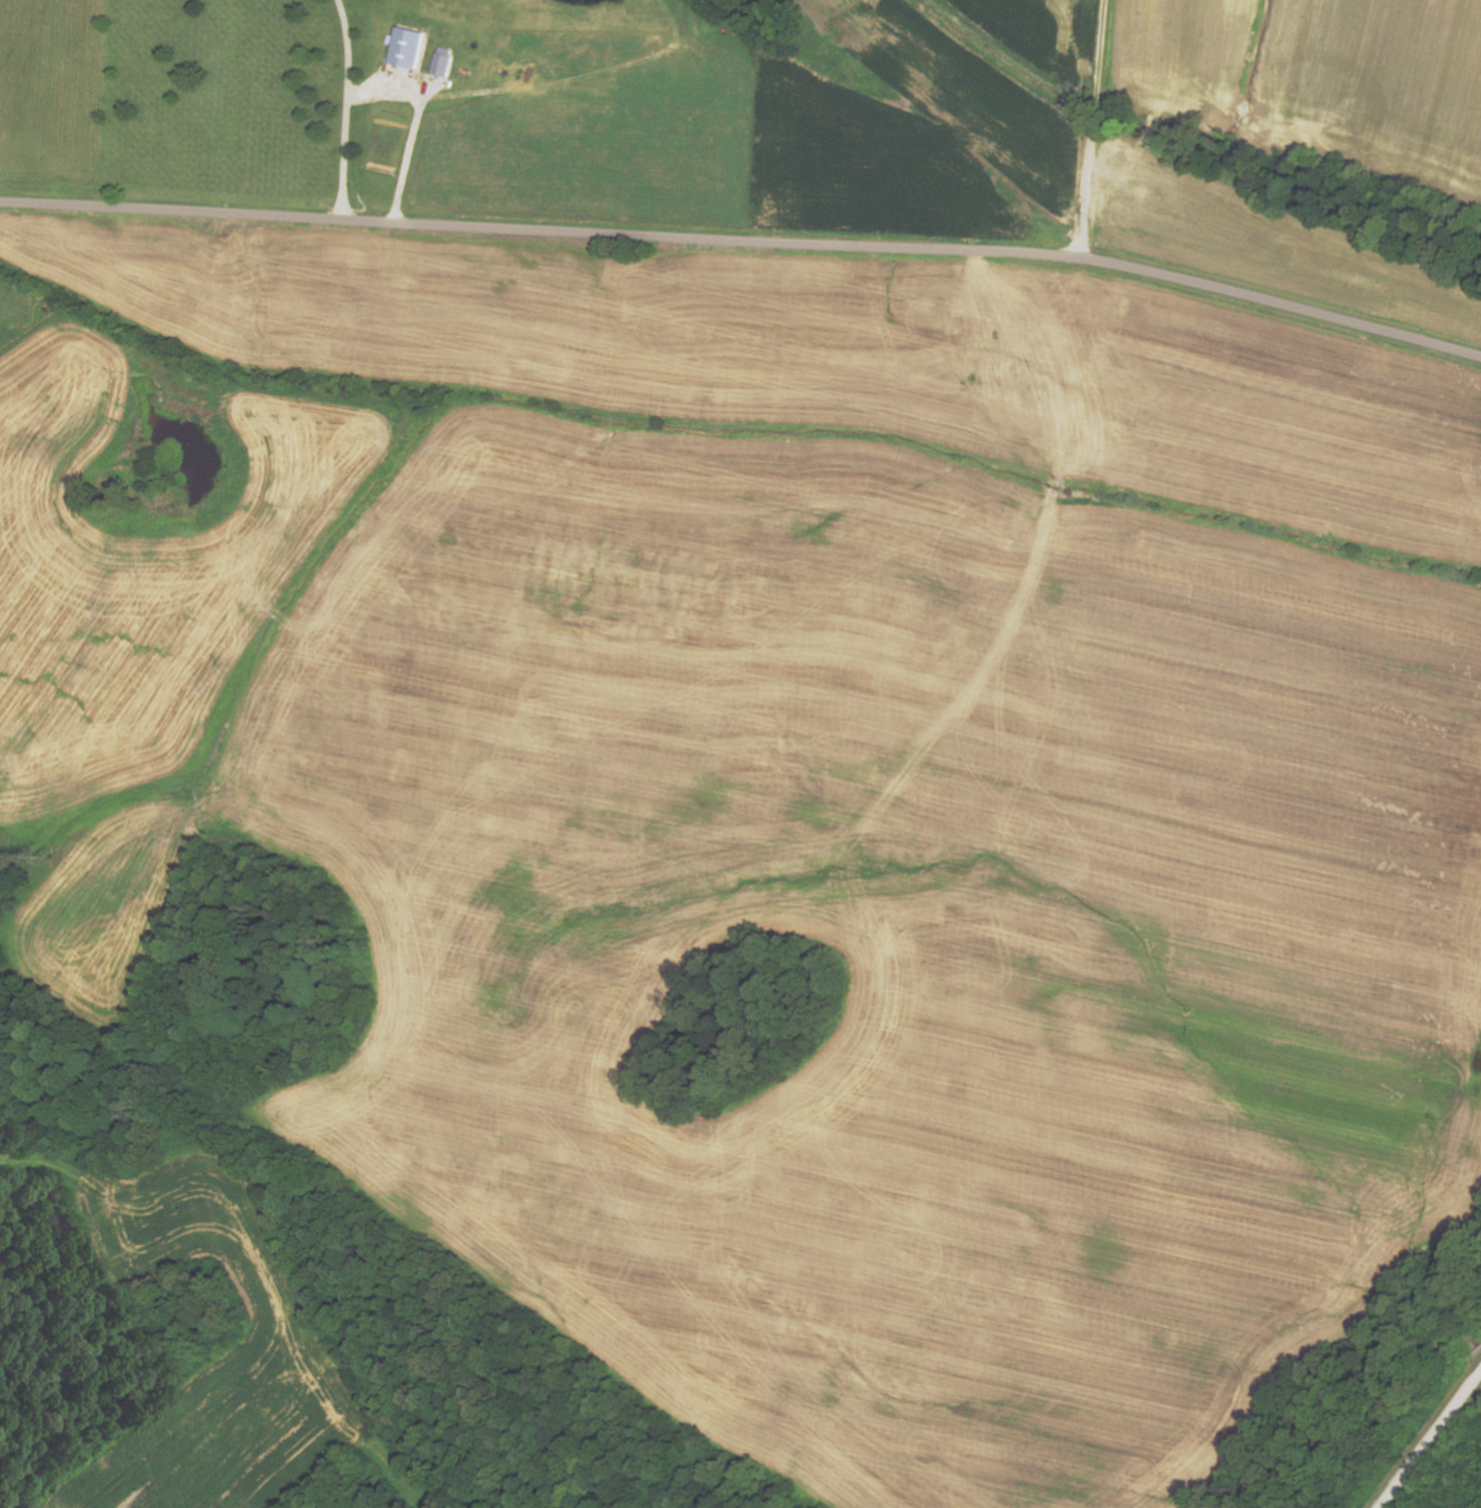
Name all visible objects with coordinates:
building: (410, 49)
building: (445, 62)
road: (346, 110)
road: (420, 122)
road: (746, 241)
road: (1432, 1443)

